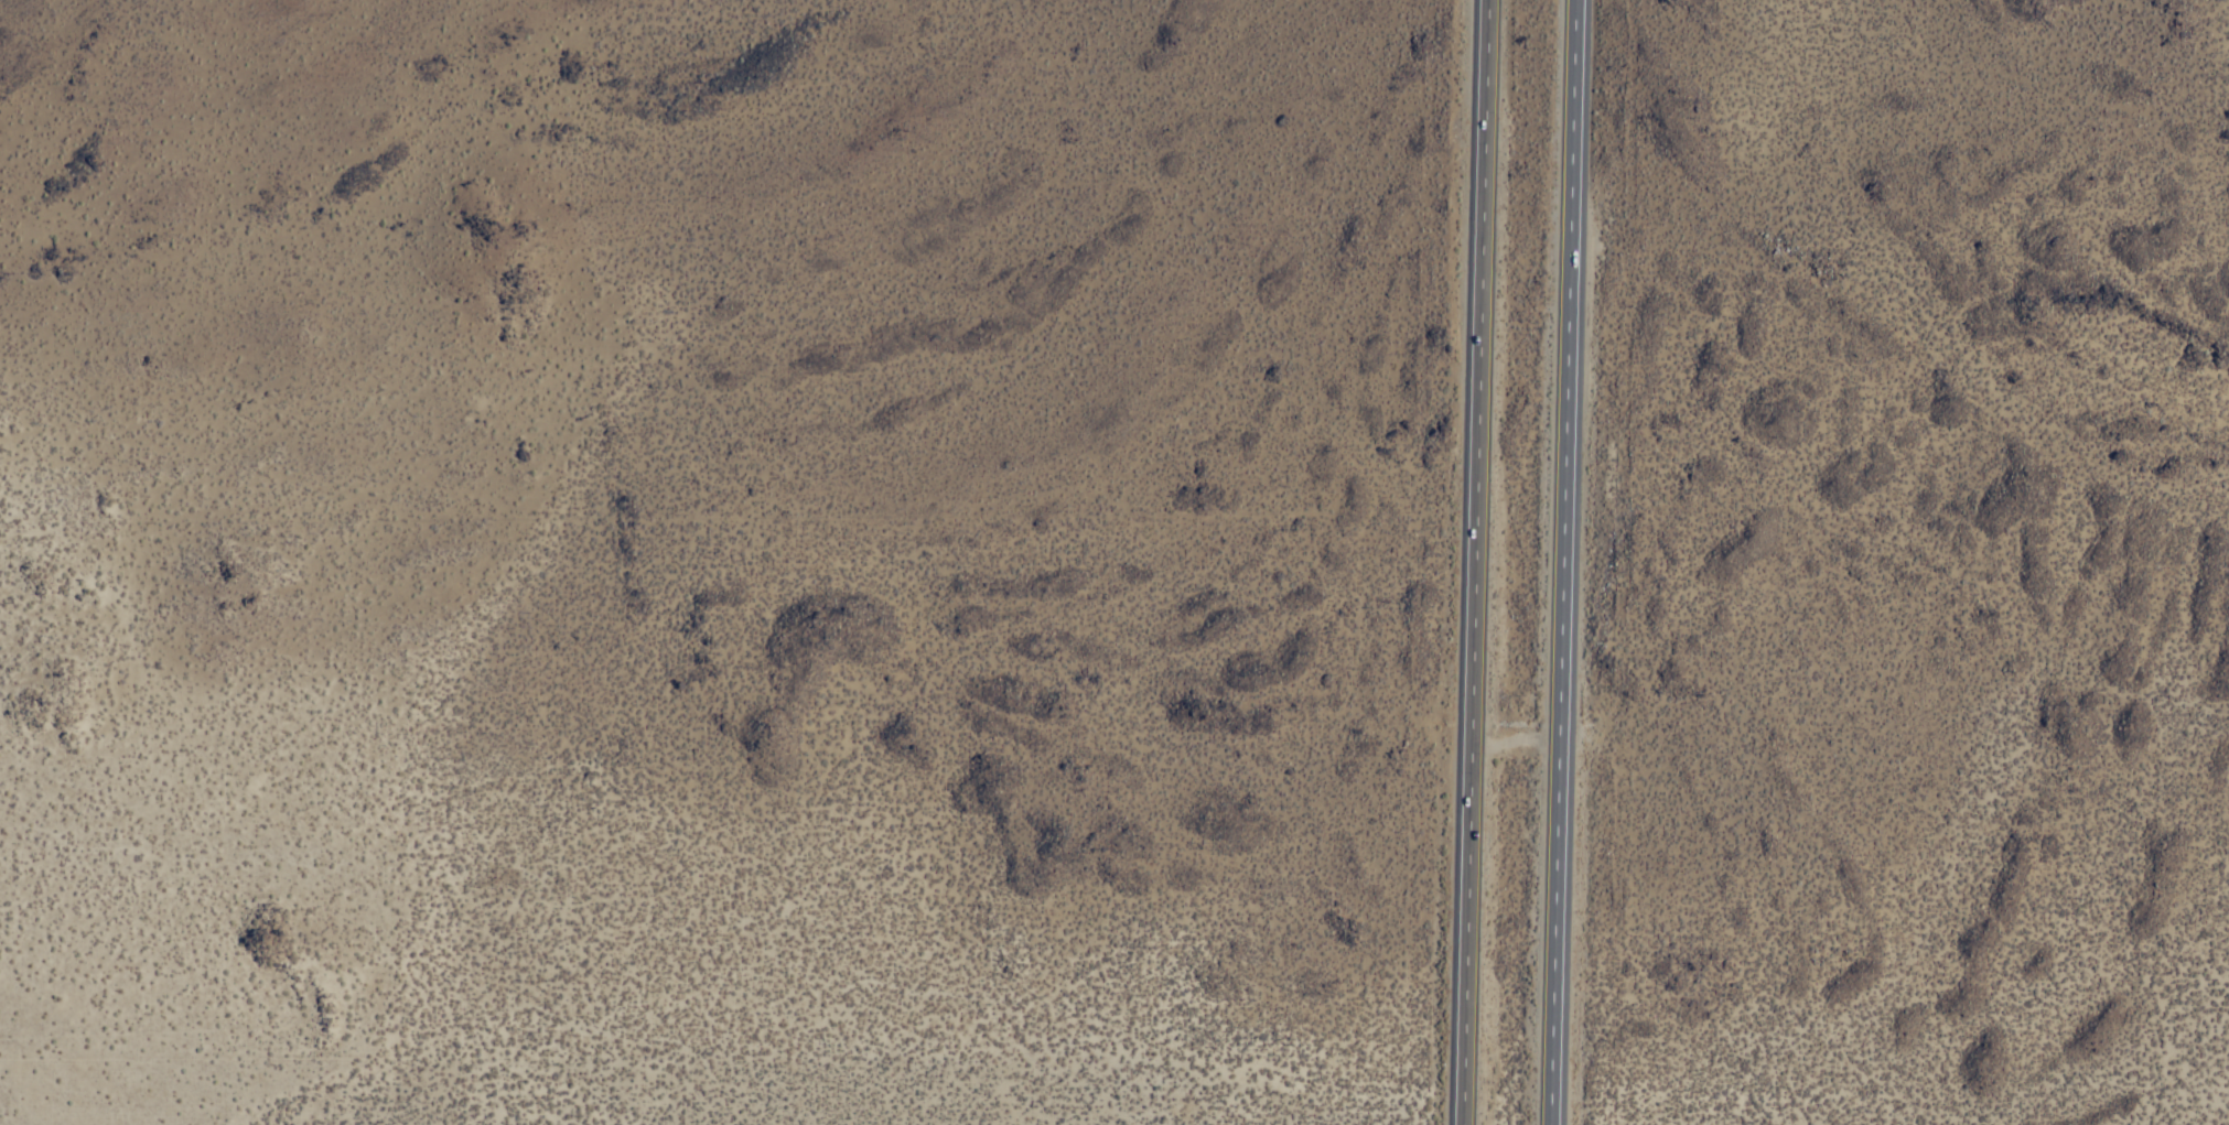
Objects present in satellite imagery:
road: (1474, 562)
road: (1564, 562)

